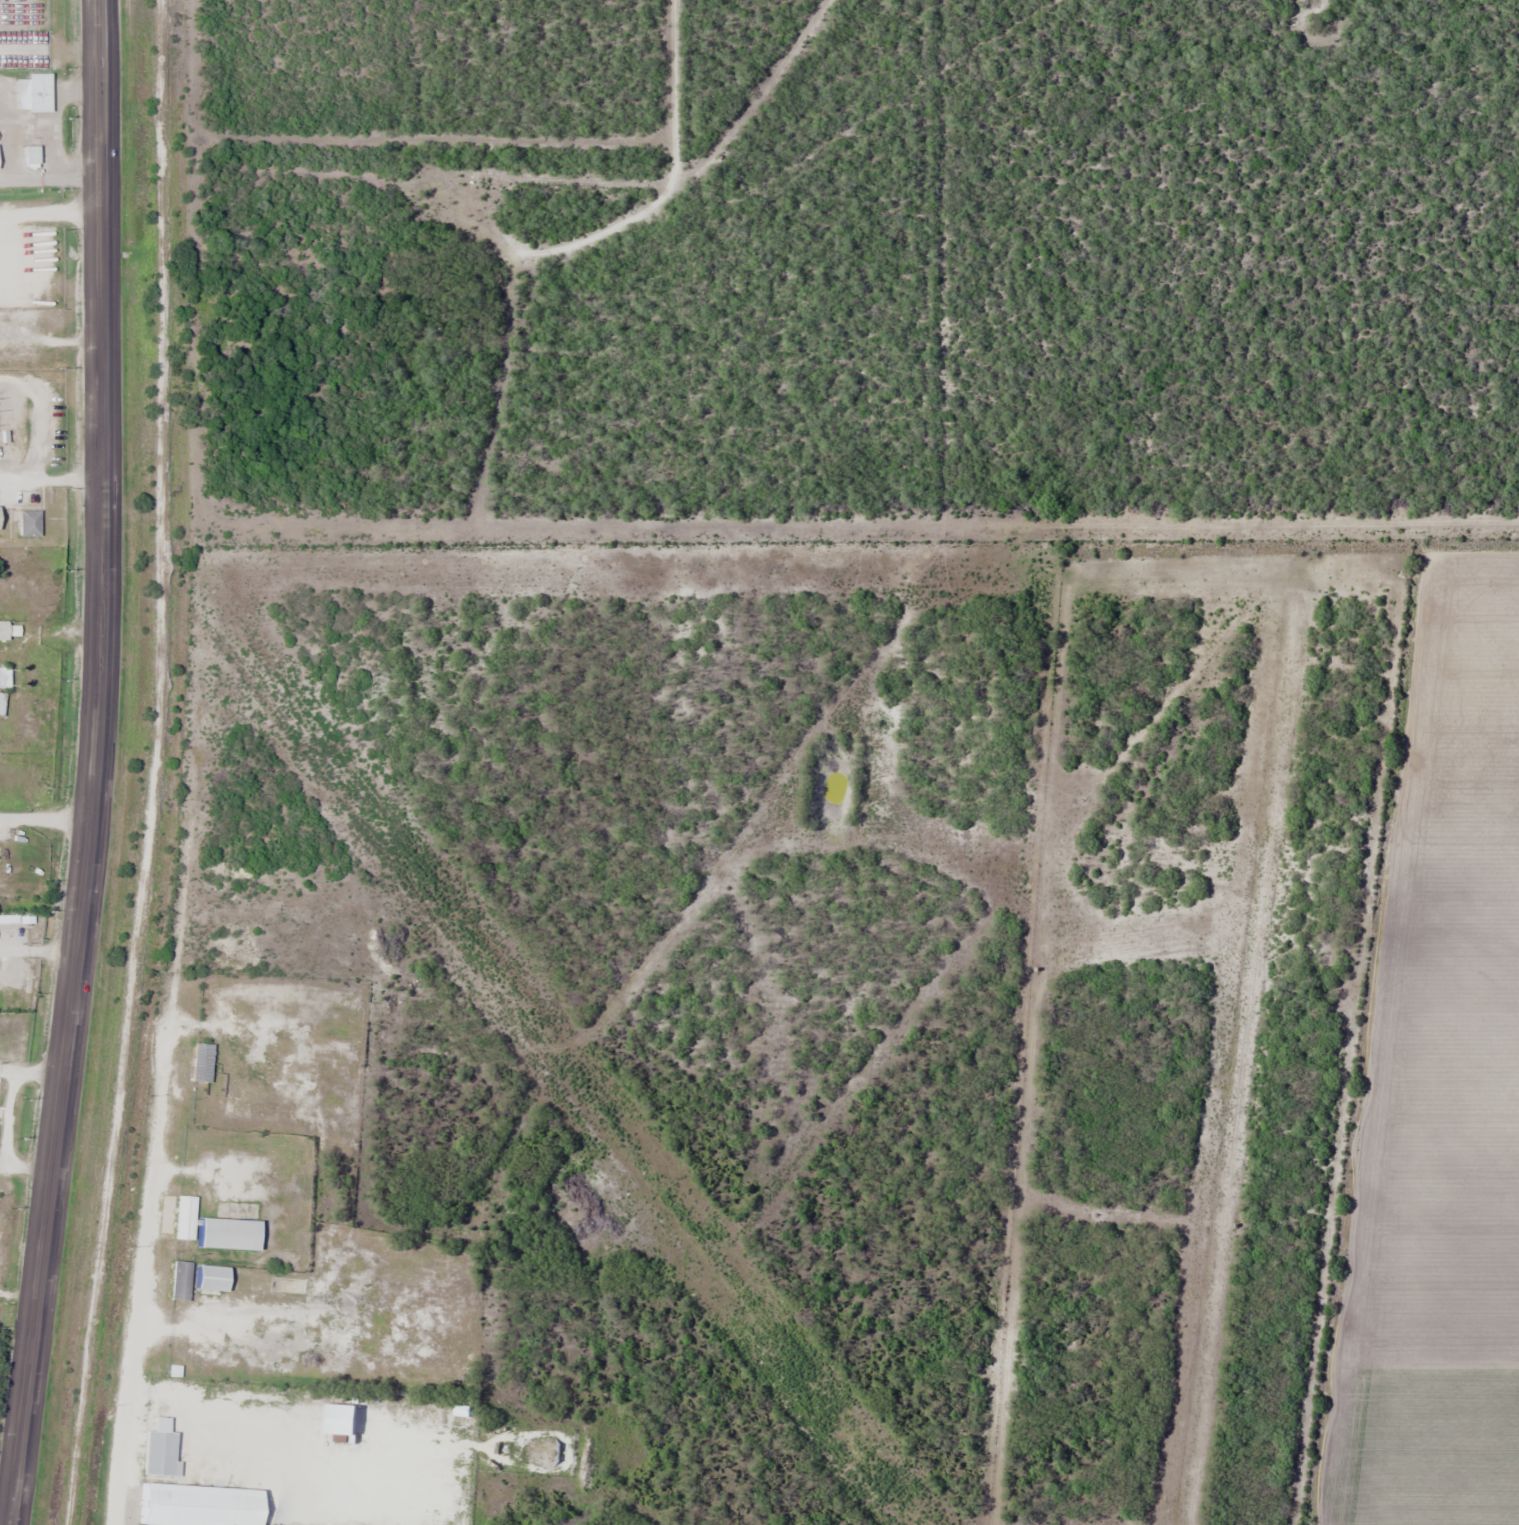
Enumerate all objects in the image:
building: (32, 93)
building: (29, 155)
road: (577, 254)
building: (27, 522)
building: (8, 629)
building: (3, 677)
building: (0, 704)
road: (96, 730)
railway: (159, 765)
road: (138, 1298)
road: (8, 1490)
road: (18, 1490)
building: (195, 1505)

